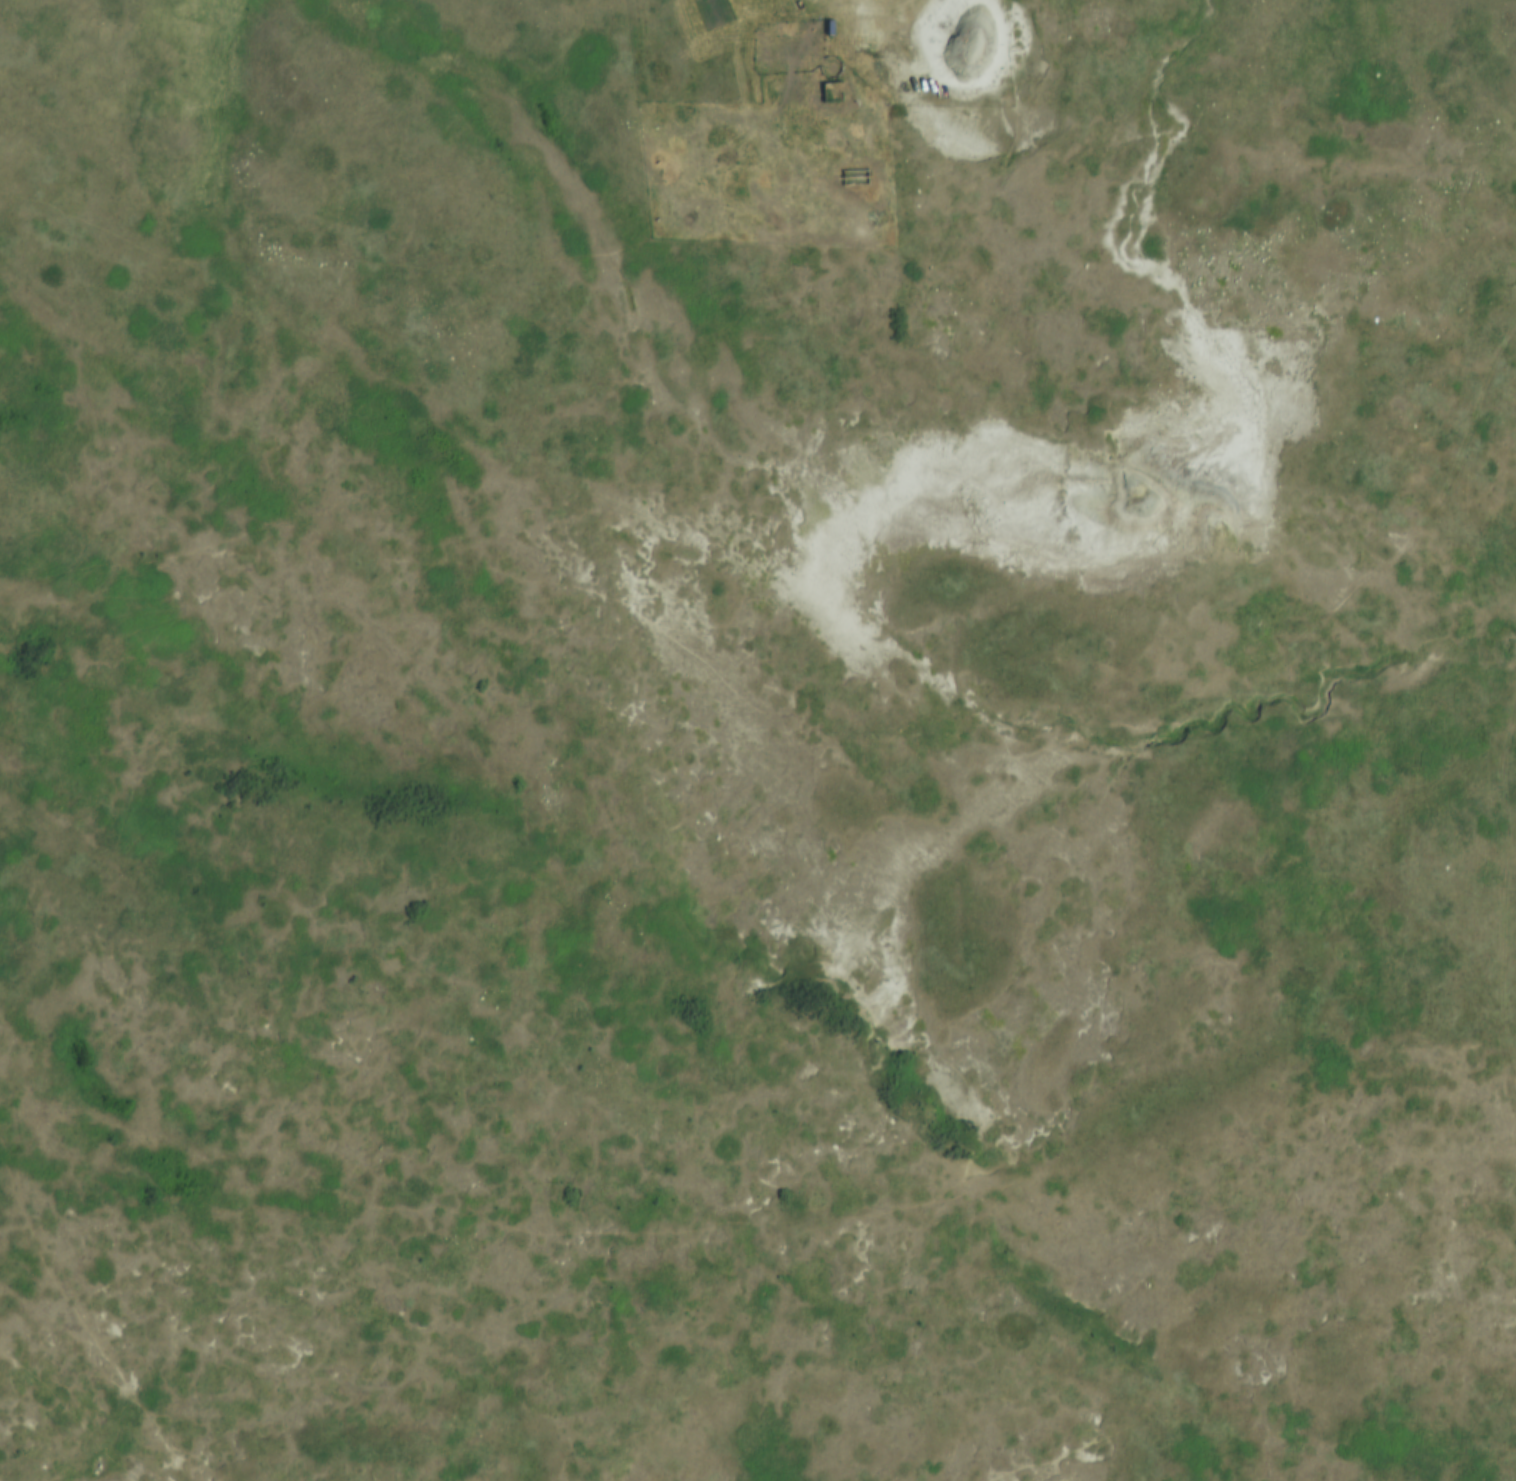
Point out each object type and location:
road: (1484, 415)
road: (1503, 870)

